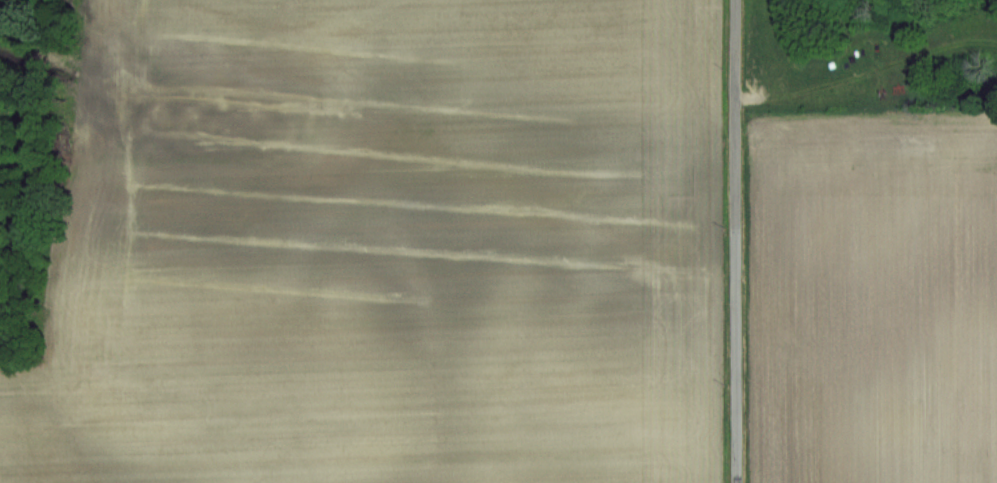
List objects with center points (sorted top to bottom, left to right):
road: (733, 241)

